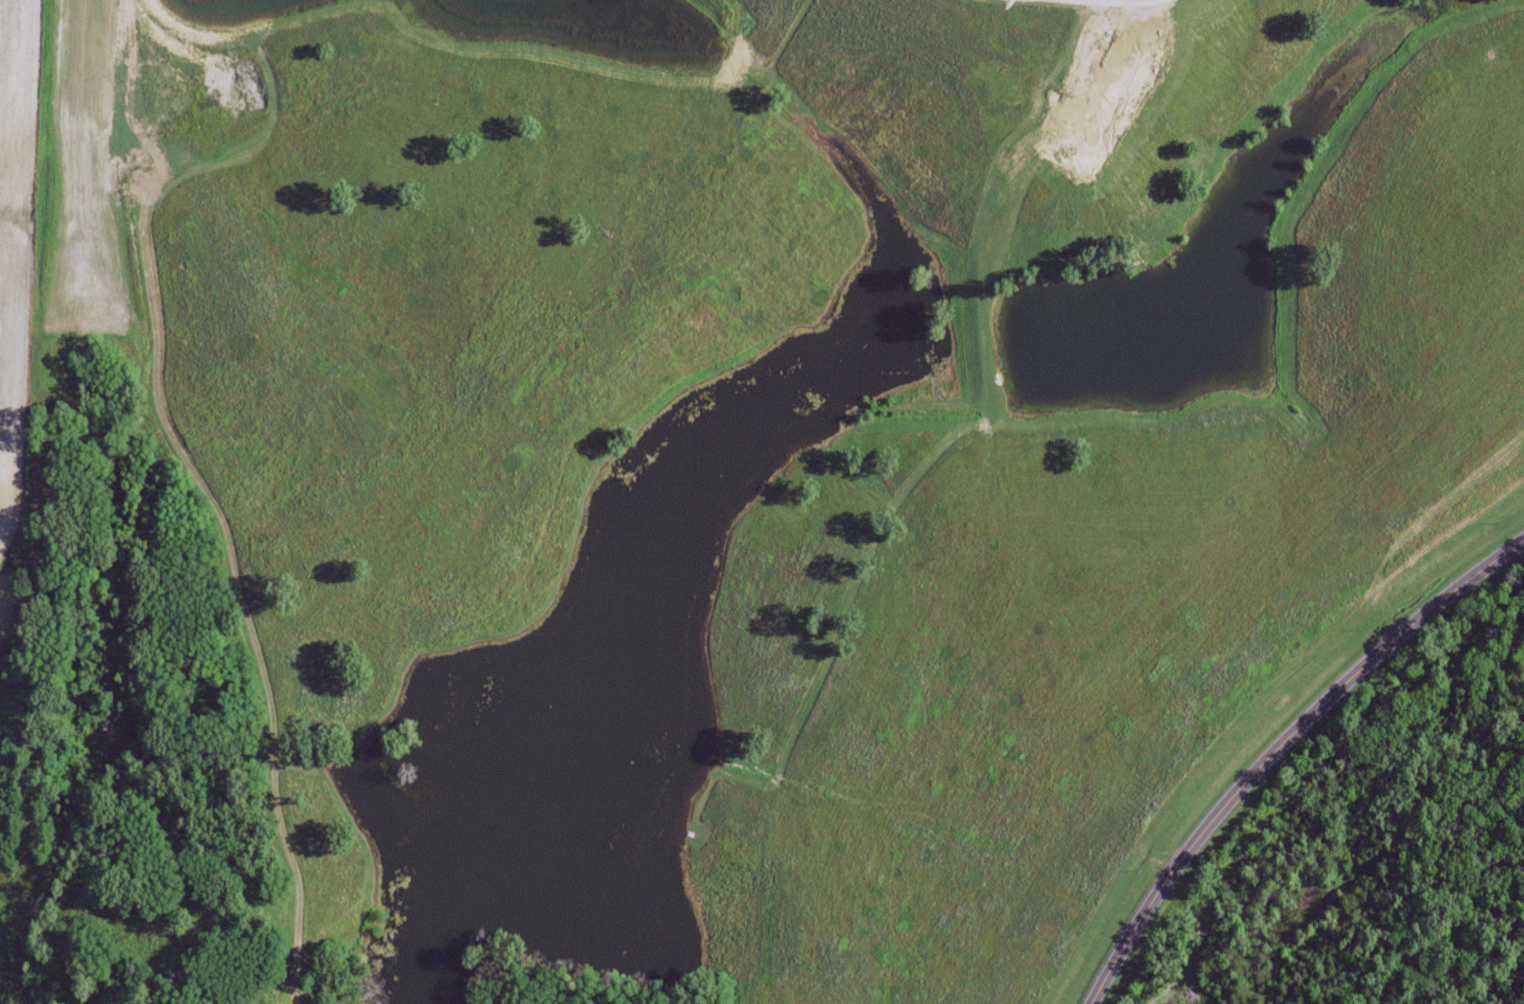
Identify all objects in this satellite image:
road: (708, 110)
road: (602, 247)
road: (1277, 741)

